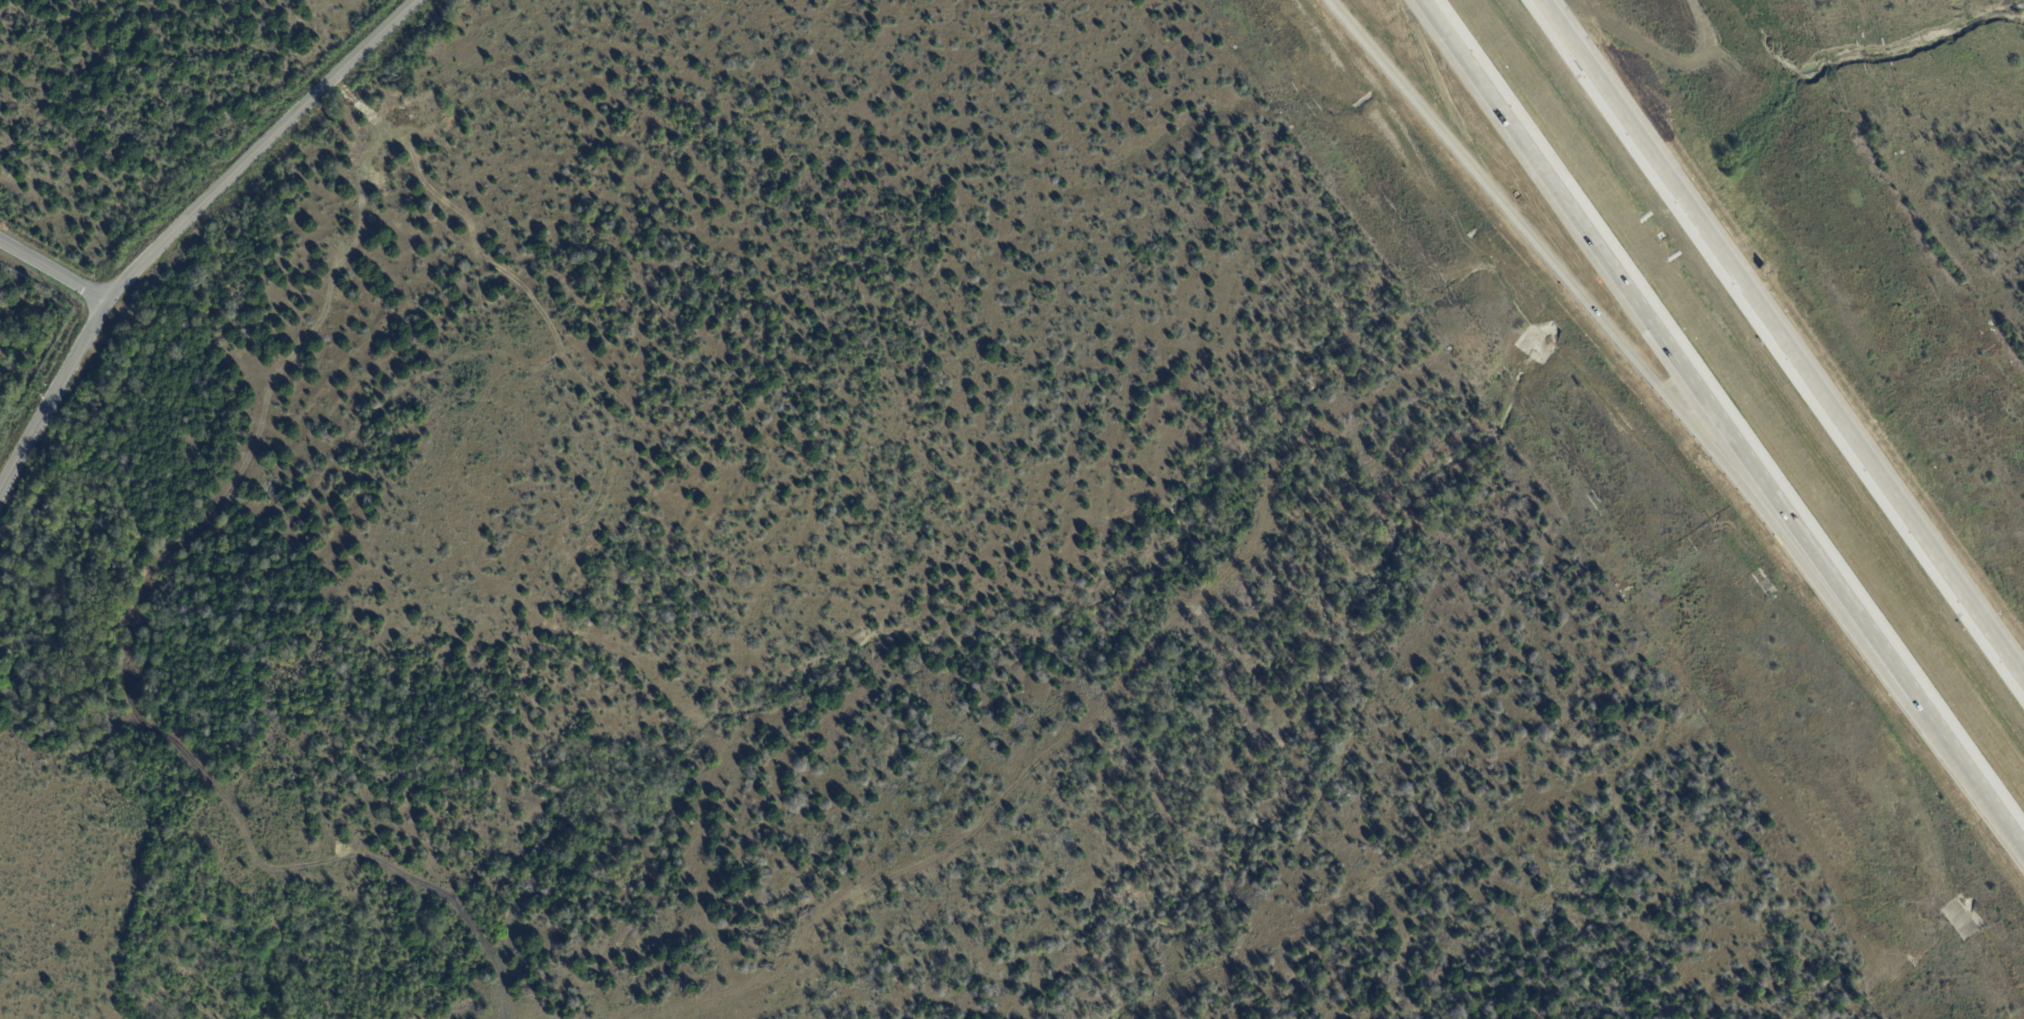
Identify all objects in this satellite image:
road: (185, 225)
road: (52, 271)
road: (1788, 335)
road: (1634, 358)
road: (1680, 360)
road: (1979, 777)

